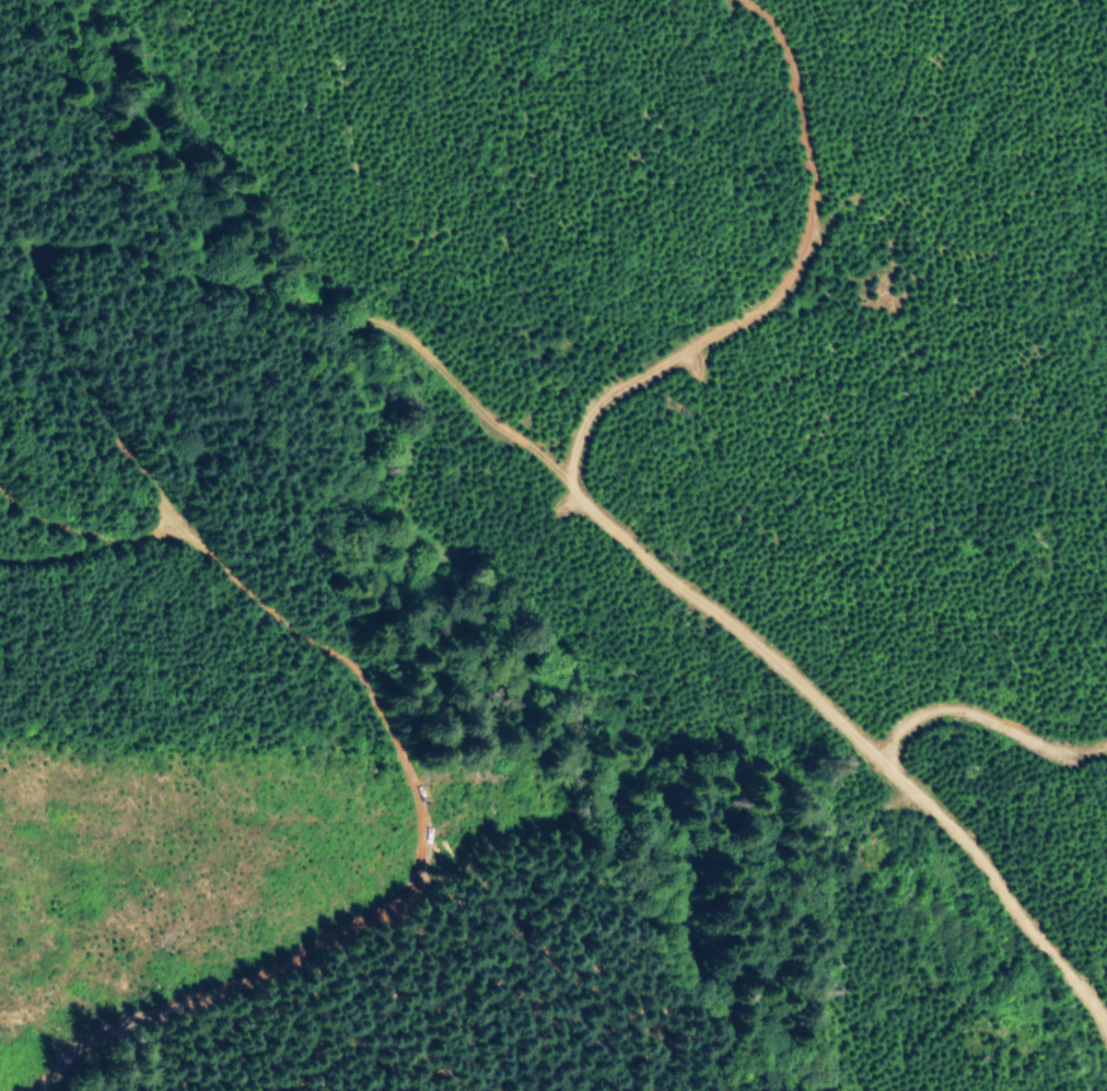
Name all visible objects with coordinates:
road: (587, 608)

